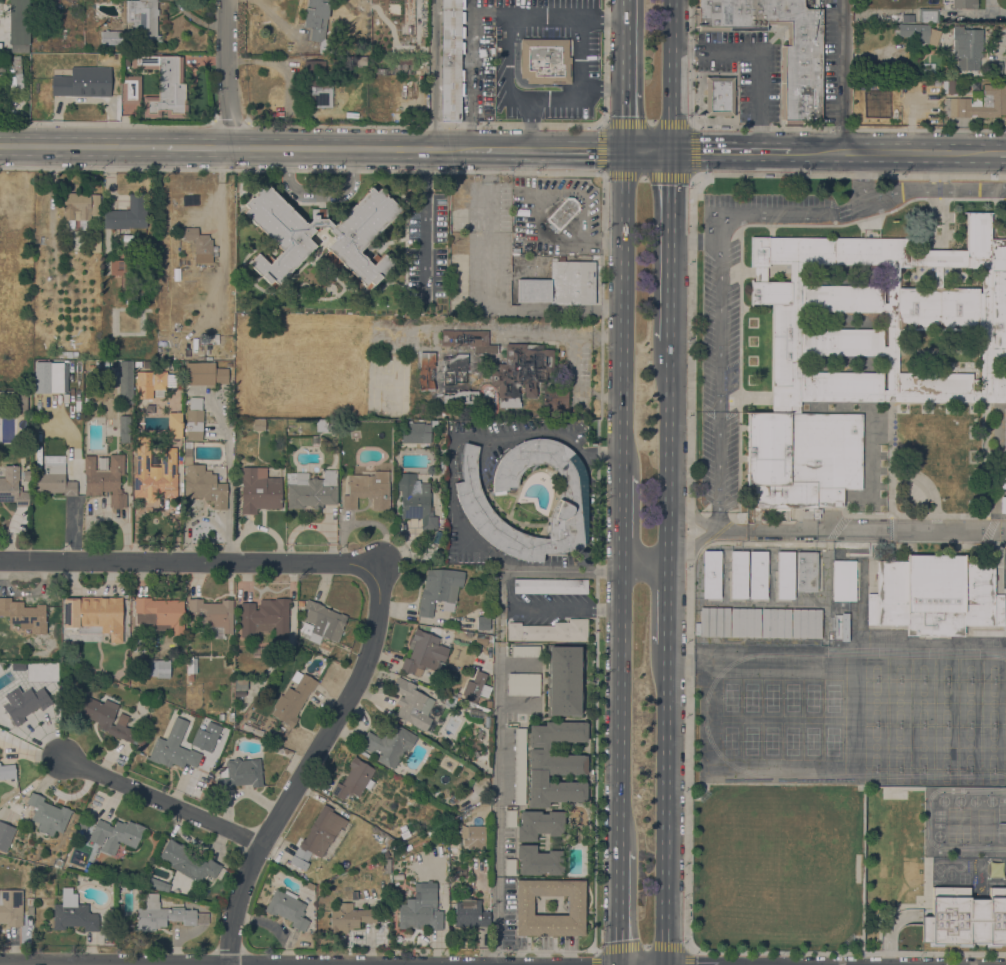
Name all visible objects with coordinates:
building: (962, 3)
building: (928, 15)
building: (696, 17)
building: (907, 18)
road: (545, 20)
road: (604, 20)
building: (318, 23)
building: (136, 24)
building: (19, 26)
building: (733, 29)
road: (737, 29)
building: (918, 34)
road: (775, 36)
building: (788, 36)
road: (782, 38)
building: (966, 47)
road: (715, 51)
parking lot: (709, 57)
building: (358, 60)
building: (450, 60)
parking lot: (478, 60)
building: (545, 61)
road: (605, 61)
parking lot: (838, 61)
road: (692, 62)
road: (470, 63)
street lamp: (738, 63)
building: (802, 64)
parking lot: (585, 67)
parking lot: (737, 68)
building: (994, 69)
road: (226, 73)
road: (434, 74)
road: (626, 75)
road: (671, 75)
road: (845, 75)
building: (781, 76)
road: (518, 81)
building: (82, 82)
road: (781, 84)
building: (316, 85)
building: (164, 87)
building: (952, 87)
building: (131, 89)
road: (603, 89)
building: (719, 97)
road: (544, 100)
building: (731, 101)
road: (760, 101)
building: (956, 101)
building: (783, 104)
parking lot: (752, 107)
traffic signals: (625, 115)
street lamp: (688, 116)
road: (230, 122)
building: (792, 122)
road: (105, 124)
street lamp: (771, 124)
road: (530, 125)
road: (603, 125)
road: (693, 125)
road: (781, 125)
road: (425, 126)
road: (850, 128)
street lamp: (745, 129)
street lamp: (936, 129)
street lamp: (832, 130)
road: (83, 145)
road: (198, 146)
road: (359, 148)
road: (556, 150)
traffic signals: (593, 151)
traffic signals: (625, 151)
road: (648, 151)
traffic signals: (671, 151)
traffic signals: (702, 151)
road: (730, 151)
road: (894, 152)
road: (1003, 154)
road: (301, 172)
road: (692, 174)
road: (603, 175)
road: (851, 175)
road: (695, 177)
traffic signals: (671, 184)
road: (320, 191)
road: (914, 192)
road: (547, 199)
building: (79, 206)
building: (563, 212)
building: (127, 214)
road: (762, 215)
road: (431, 225)
flagpole: (938, 226)
building: (352, 238)
road: (695, 242)
road: (591, 243)
building: (199, 244)
road: (605, 244)
road: (617, 244)
building: (757, 250)
road: (669, 252)
building: (123, 269)
building: (777, 273)
building: (845, 275)
building: (916, 277)
building: (961, 278)
building: (752, 279)
building: (561, 284)
road: (623, 312)
building: (845, 321)
building: (468, 340)
building: (940, 352)
building: (137, 364)
building: (785, 364)
building: (844, 364)
building: (999, 365)
building: (176, 366)
building: (521, 371)
building: (427, 372)
building: (205, 374)
building: (42, 376)
road: (601, 377)
building: (158, 379)
building: (456, 379)
building: (125, 382)
road: (720, 386)
building: (555, 399)
building: (14, 401)
building: (437, 414)
building: (194, 419)
building: (259, 424)
building: (321, 425)
building: (175, 426)
building: (124, 428)
building: (333, 428)
building: (414, 433)
road: (496, 435)
building: (1004, 439)
building: (315, 440)
building: (290, 450)
road: (602, 456)
road: (482, 462)
road: (668, 462)
building: (101, 464)
building: (155, 473)
building: (27, 475)
building: (105, 480)
building: (1003, 480)
building: (53, 481)
building: (202, 482)
building: (12, 487)
building: (310, 489)
building: (259, 490)
building: (368, 490)
building: (416, 500)
building: (472, 502)
building: (1003, 505)
building: (816, 514)
road: (621, 522)
road: (875, 528)
road: (718, 531)
road: (732, 531)
road: (186, 562)
road: (643, 570)
road: (561, 571)
building: (807, 572)
building: (711, 574)
building: (739, 574)
building: (758, 575)
building: (786, 575)
building: (843, 580)
building: (550, 586)
building: (587, 586)
building: (439, 589)
building: (935, 595)
parking lot: (544, 606)
road: (567, 610)
road: (666, 613)
building: (161, 614)
building: (24, 615)
building: (94, 615)
building: (214, 616)
building: (264, 617)
road: (569, 618)
road: (586, 618)
road: (573, 619)
building: (324, 621)
building: (714, 621)
building: (745, 622)
building: (483, 623)
building: (775, 623)
building: (806, 623)
building: (844, 627)
building: (549, 631)
building: (507, 633)
building: (461, 634)
building: (481, 640)
building: (259, 648)
building: (525, 652)
parking lot: (525, 652)
track: (916, 652)
building: (424, 653)
building: (191, 667)
building: (154, 668)
park: (876, 668)
park: (900, 669)
park: (923, 669)
park: (946, 669)
park: (970, 669)
park: (993, 669)
building: (564, 680)
building: (523, 685)
parking lot: (523, 685)
building: (240, 686)
building: (474, 686)
park: (731, 697)
park: (751, 697)
park: (772, 697)
park: (792, 697)
park: (812, 698)
park: (833, 698)
building: (293, 699)
building: (449, 701)
park: (876, 703)
park: (899, 703)
park: (923, 703)
park: (946, 703)
park: (969, 703)
building: (25, 704)
building: (412, 704)
park: (993, 704)
building: (235, 708)
road: (619, 710)
track: (861, 715)
building: (222, 717)
building: (230, 717)
building: (106, 718)
road: (689, 721)
building: (205, 737)
park: (731, 741)
park: (751, 741)
park: (771, 741)
park: (792, 741)
park: (812, 741)
building: (141, 742)
park: (832, 742)
building: (389, 744)
park: (875, 747)
park: (899, 747)
park: (922, 747)
park: (946, 747)
park: (969, 747)
building: (173, 748)
building: (545, 748)
park: (992, 748)
building: (277, 750)
building: (519, 766)
parking lot: (519, 766)
road: (595, 766)
road: (497, 767)
road: (309, 768)
building: (7, 771)
building: (239, 774)
park: (898, 778)
building: (354, 779)
park: (875, 779)
park: (922, 779)
park: (945, 779)
park: (969, 779)
park: (992, 779)
building: (198, 784)
building: (553, 791)
building: (460, 794)
road: (162, 800)
road: (665, 810)
building: (48, 815)
building: (510, 819)
parking lot: (510, 819)
building: (539, 824)
building: (83, 825)
building: (403, 828)
building: (9, 830)
building: (405, 834)
building: (115, 835)
building: (318, 836)
building: (473, 836)
building: (385, 855)
building: (348, 857)
building: (539, 861)
building: (188, 862)
building: (509, 867)
parking lot: (509, 867)
building: (158, 884)
building: (310, 886)
building: (429, 890)
building: (425, 899)
building: (524, 904)
building: (11, 907)
road: (619, 907)
building: (287, 908)
building: (73, 913)
building: (470, 914)
building: (166, 915)
building: (418, 915)
parking lot: (510, 916)
building: (349, 917)
building: (965, 918)
parking lot: (545, 943)
parking lot: (570, 943)
road: (689, 948)
road: (646, 949)
road: (668, 949)
road: (538, 951)
road: (620, 951)
road: (686, 958)
road: (597, 959)
road: (65, 964)

